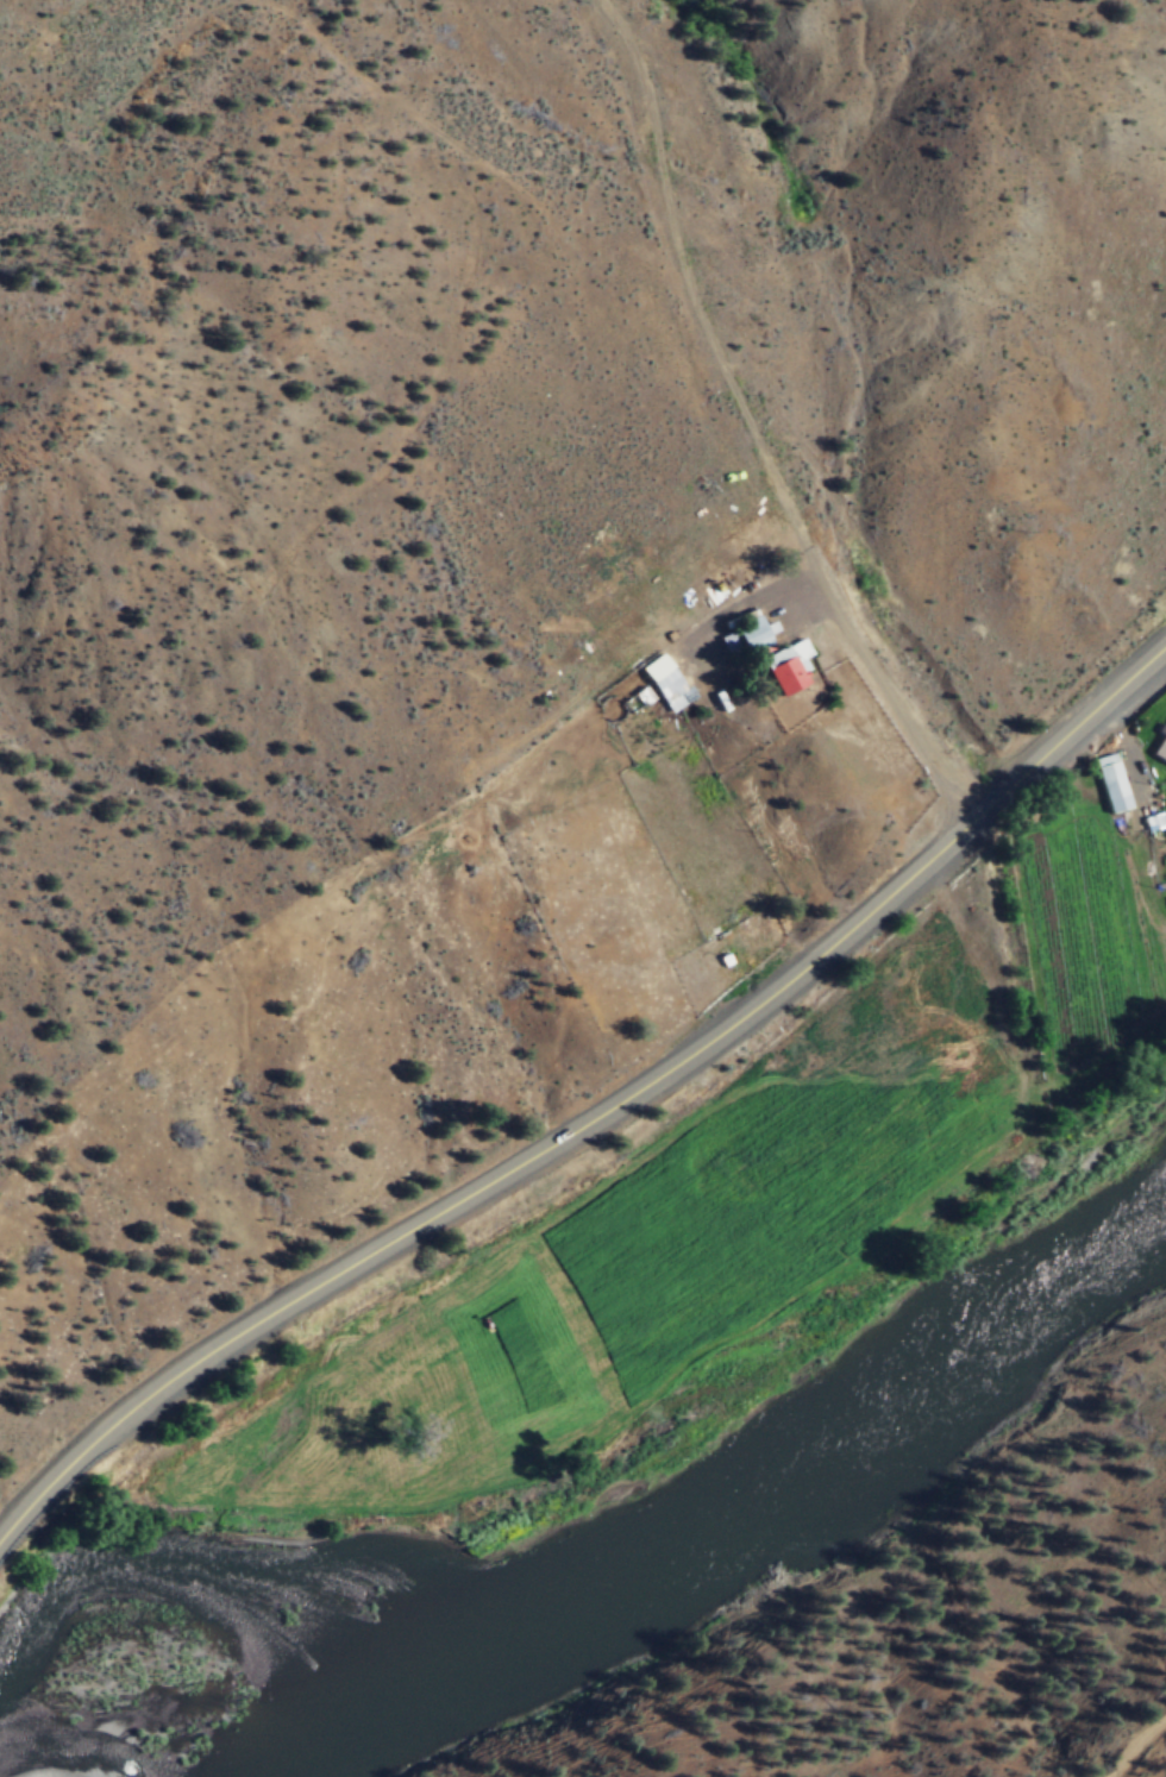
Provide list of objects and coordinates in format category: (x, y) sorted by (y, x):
road: (752, 431)
building: (745, 635)
building: (784, 667)
building: (666, 689)
building: (1159, 747)
building: (1108, 783)
road: (594, 1130)
river: (618, 1558)

